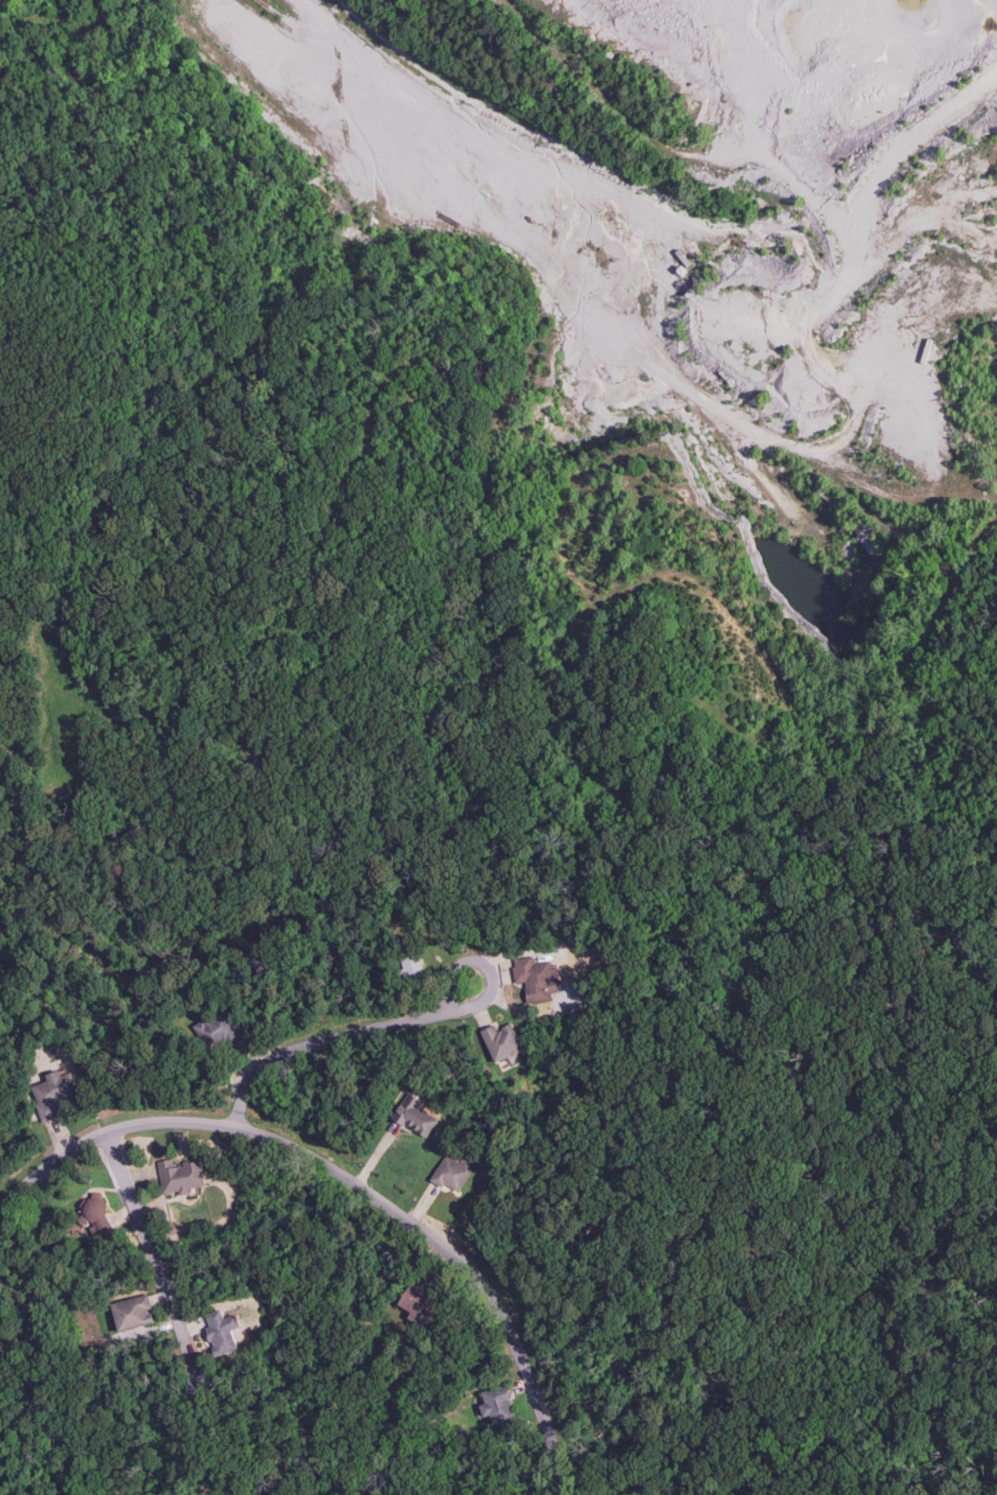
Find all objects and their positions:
road: (659, 104)
building: (536, 978)
building: (216, 1031)
road: (337, 1035)
building: (502, 1041)
building: (54, 1093)
building: (415, 1115)
building: (451, 1172)
building: (181, 1175)
road: (354, 1185)
building: (97, 1216)
road: (149, 1244)
building: (420, 1299)
building: (132, 1311)
building: (222, 1331)
building: (498, 1404)

